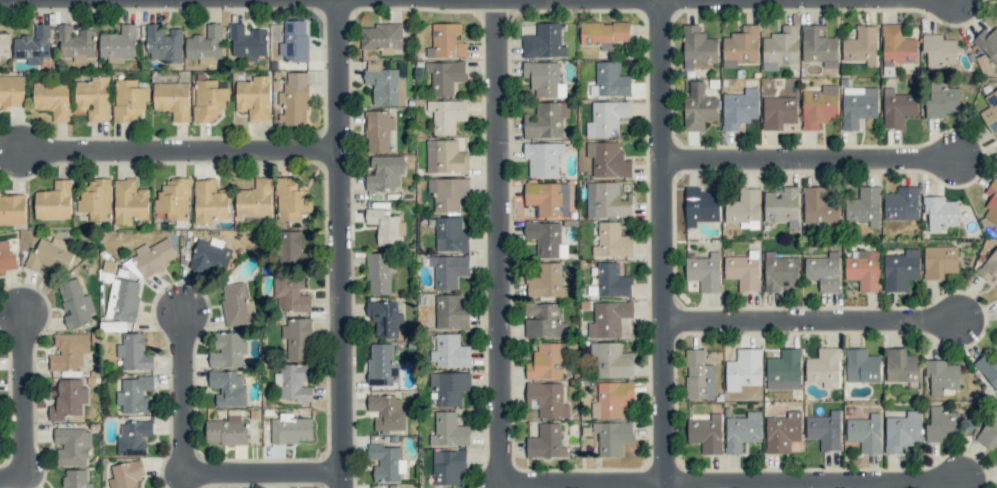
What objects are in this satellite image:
road: (810, 0)
building: (603, 33)
building: (382, 37)
building: (293, 40)
building: (446, 41)
building: (247, 42)
building: (543, 42)
building: (76, 43)
building: (118, 43)
building: (987, 43)
building: (4, 44)
building: (163, 44)
building: (205, 44)
building: (33, 45)
building: (897, 45)
building: (697, 46)
building: (741, 46)
building: (818, 46)
building: (861, 46)
building: (780, 47)
building: (939, 51)
building: (444, 76)
building: (544, 78)
building: (609, 80)
building: (385, 84)
building: (12, 91)
building: (254, 97)
building: (93, 98)
building: (52, 99)
building: (172, 99)
building: (128, 100)
building: (208, 100)
building: (294, 100)
building: (941, 101)
building: (858, 105)
building: (697, 106)
building: (819, 107)
building: (739, 108)
building: (897, 108)
building: (990, 111)
building: (778, 112)
building: (446, 115)
building: (606, 118)
building: (545, 120)
building: (378, 131)
road: (182, 151)
building: (445, 156)
building: (542, 158)
building: (607, 159)
road: (812, 162)
building: (385, 173)
building: (448, 193)
building: (547, 198)
building: (96, 199)
building: (174, 199)
building: (254, 199)
building: (291, 199)
building: (607, 200)
building: (54, 201)
building: (129, 201)
building: (209, 201)
building: (991, 202)
building: (901, 204)
building: (700, 206)
building: (782, 206)
building: (864, 206)
building: (12, 208)
building: (820, 208)
building: (744, 209)
building: (939, 213)
building: (385, 226)
building: (450, 235)
building: (546, 238)
building: (612, 241)
road: (499, 242)
road: (342, 244)
road: (662, 244)
building: (292, 249)
building: (50, 254)
building: (209, 255)
building: (154, 256)
building: (7, 257)
building: (939, 261)
building: (989, 266)
building: (863, 269)
building: (448, 270)
building: (743, 270)
building: (900, 270)
building: (823, 271)
building: (704, 272)
building: (780, 272)
building: (378, 273)
building: (612, 280)
building: (546, 281)
building: (290, 294)
building: (122, 299)
building: (75, 304)
building: (236, 305)
building: (450, 313)
building: (384, 317)
building: (608, 318)
building: (543, 320)
road: (813, 323)
building: (297, 338)
building: (227, 350)
building: (69, 351)
building: (449, 351)
building: (134, 352)
building: (611, 360)
building: (546, 361)
building: (901, 365)
building: (861, 366)
building: (823, 367)
building: (743, 369)
building: (784, 370)
building: (988, 370)
building: (696, 375)
building: (942, 376)
building: (292, 383)
building: (228, 387)
building: (449, 387)
building: (134, 394)
building: (612, 398)
building: (68, 399)
building: (547, 399)
road: (25, 404)
building: (387, 412)
building: (942, 425)
building: (291, 429)
building: (448, 430)
building: (825, 430)
building: (226, 431)
building: (742, 431)
building: (902, 431)
building: (782, 432)
building: (989, 432)
building: (706, 433)
building: (865, 433)
building: (133, 437)
building: (612, 437)
building: (545, 442)
building: (72, 445)
building: (386, 462)
building: (448, 466)
road: (186, 472)
building: (126, 474)
building: (76, 479)
road: (734, 485)

